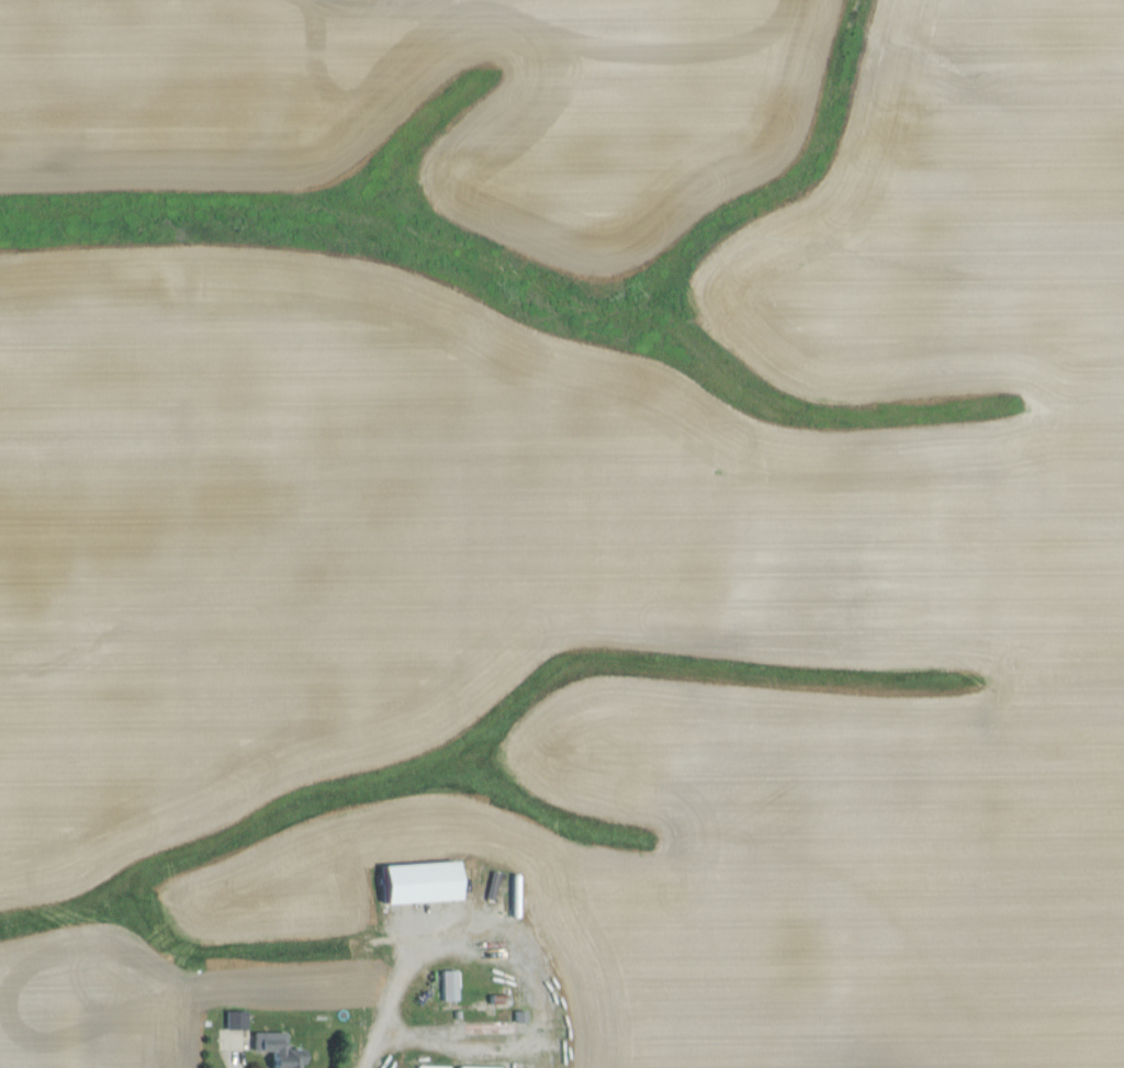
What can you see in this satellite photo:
building: (421, 880)
road: (519, 977)
building: (450, 985)
building: (237, 1019)
building: (279, 1048)
road: (381, 1049)
road: (234, 1061)

